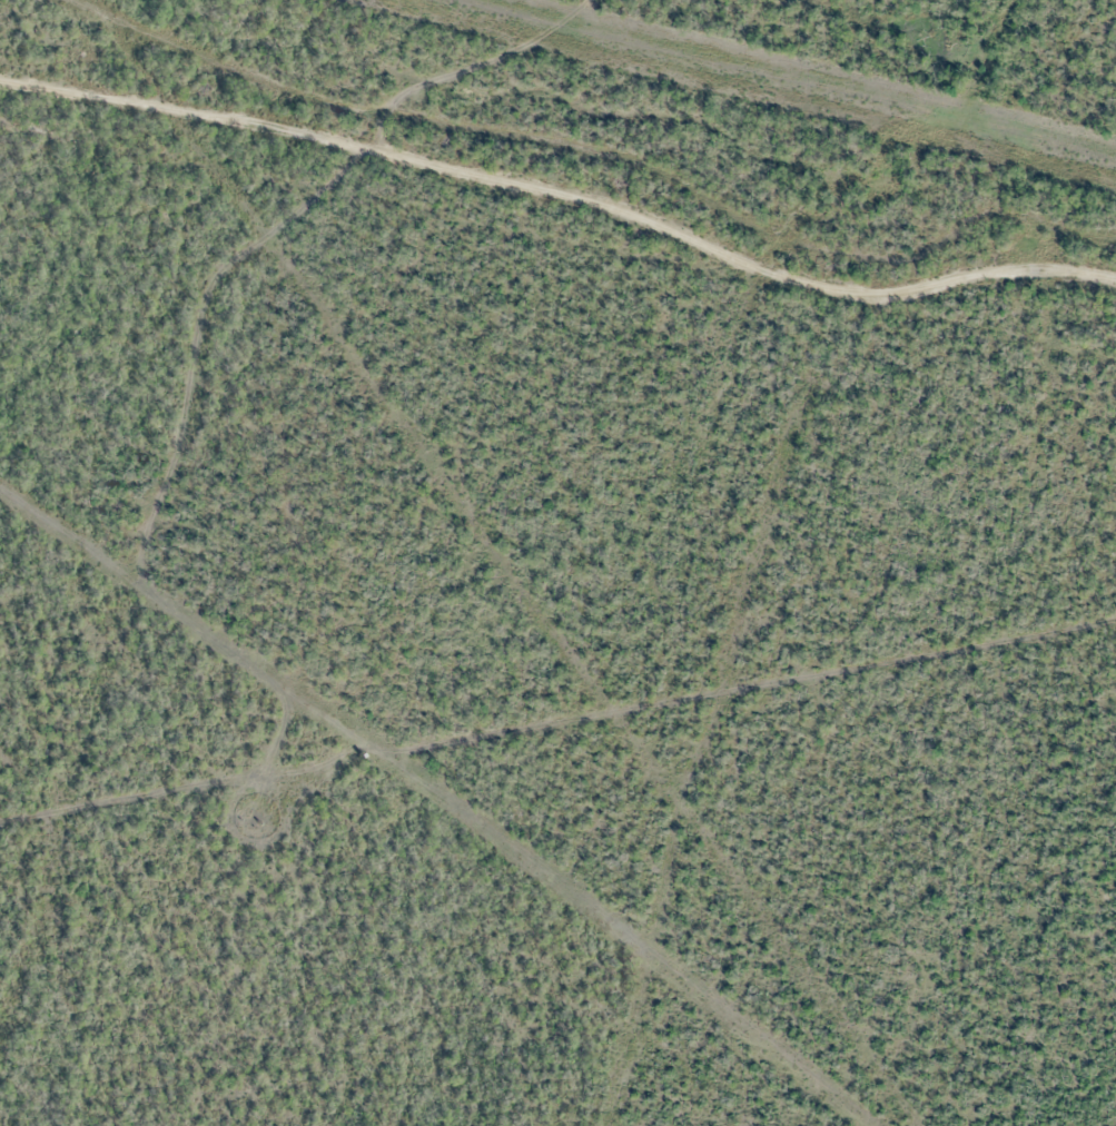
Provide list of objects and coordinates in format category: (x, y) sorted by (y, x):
road: (616, 149)

